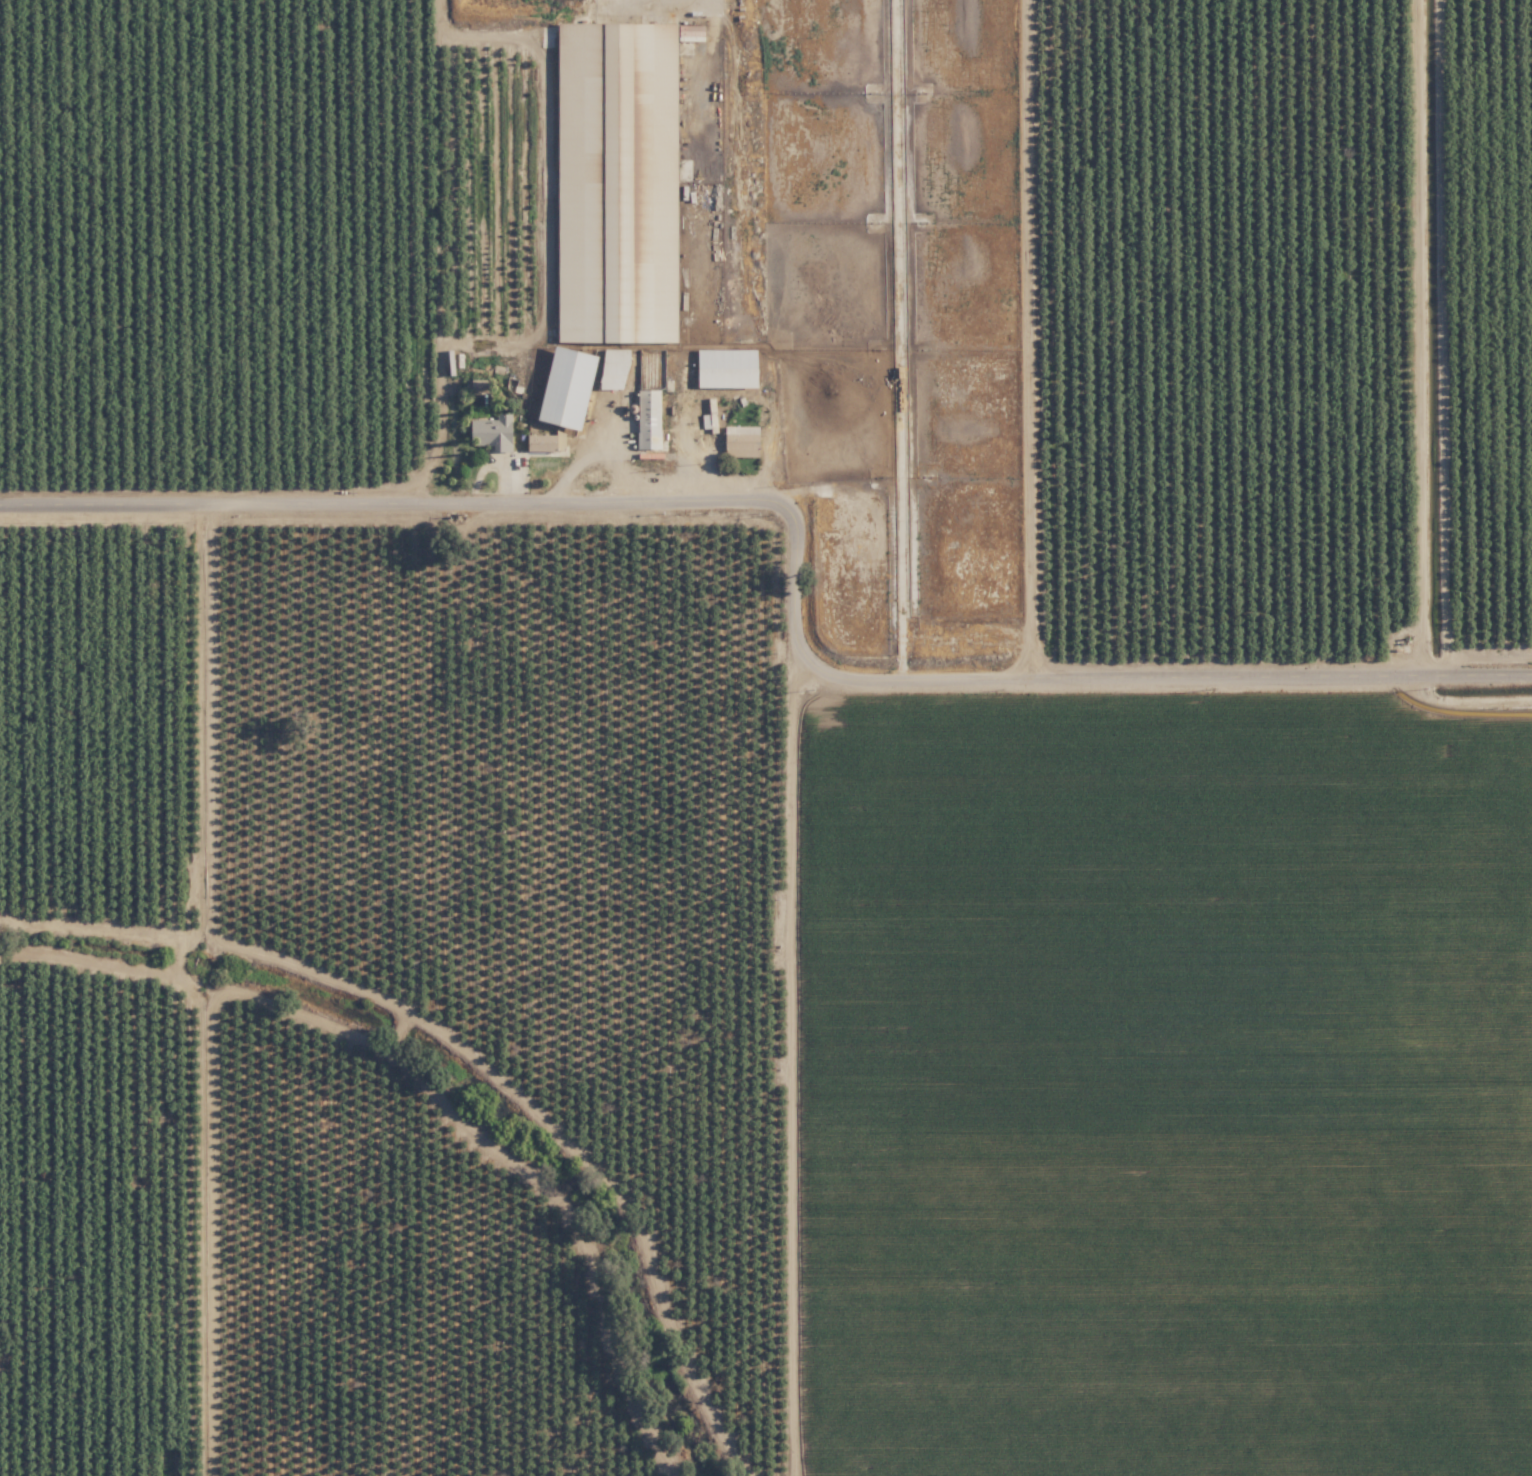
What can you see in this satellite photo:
road: (459, 246)
building: (730, 369)
building: (481, 386)
building: (571, 388)
building: (651, 420)
building: (494, 431)
building: (743, 441)
building: (543, 443)
road: (796, 541)
crop: (1158, 1077)

